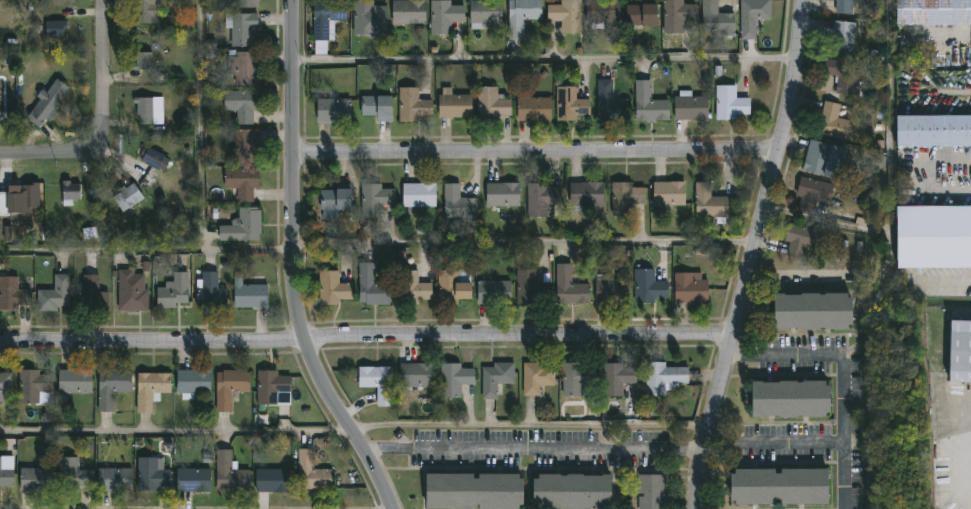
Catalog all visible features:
building: (245, 4)
building: (843, 6)
building: (144, 12)
building: (484, 12)
building: (602, 12)
building: (933, 12)
building: (407, 13)
building: (564, 13)
building: (641, 15)
building: (677, 15)
building: (520, 16)
building: (752, 16)
building: (443, 17)
building: (325, 18)
building: (369, 20)
building: (715, 20)
building: (54, 30)
building: (241, 31)
building: (841, 37)
road: (101, 55)
road: (544, 58)
building: (142, 62)
building: (243, 69)
building: (842, 75)
building: (0, 99)
building: (608, 103)
building: (647, 103)
building: (46, 104)
building: (491, 104)
building: (729, 104)
building: (570, 105)
building: (241, 106)
building: (412, 106)
building: (454, 106)
building: (376, 108)
building: (689, 108)
building: (533, 109)
building: (332, 111)
building: (143, 112)
building: (830, 122)
building: (933, 130)
building: (245, 146)
road: (66, 153)
road: (533, 154)
building: (815, 158)
building: (151, 160)
building: (240, 183)
building: (813, 191)
building: (69, 193)
building: (668, 194)
building: (501, 195)
building: (586, 195)
building: (417, 197)
building: (126, 198)
building: (625, 198)
building: (374, 199)
building: (541, 200)
building: (18, 202)
building: (332, 203)
building: (708, 203)
building: (457, 205)
road: (889, 207)
building: (241, 226)
building: (933, 237)
road: (524, 240)
building: (799, 241)
road: (147, 249)
road: (749, 254)
road: (296, 265)
building: (371, 287)
building: (452, 287)
building: (648, 287)
building: (568, 288)
building: (332, 289)
building: (413, 289)
building: (530, 289)
building: (688, 289)
building: (131, 290)
building: (209, 290)
building: (173, 291)
building: (611, 292)
building: (93, 293)
building: (249, 293)
building: (492, 293)
building: (12, 294)
building: (54, 295)
building: (812, 310)
road: (364, 342)
building: (960, 351)
building: (415, 376)
building: (495, 377)
building: (536, 377)
building: (576, 378)
building: (616, 378)
building: (661, 378)
building: (453, 379)
building: (74, 381)
building: (193, 381)
building: (377, 383)
building: (32, 384)
building: (269, 386)
building: (5, 387)
building: (111, 387)
building: (228, 387)
building: (149, 388)
building: (790, 398)
road: (843, 409)
road: (355, 430)
road: (561, 447)
road: (387, 448)
road: (960, 464)
building: (6, 472)
building: (310, 472)
building: (228, 473)
building: (73, 474)
building: (151, 474)
road: (844, 475)
building: (35, 479)
building: (113, 479)
building: (193, 479)
building: (272, 480)
building: (779, 486)
building: (473, 491)
building: (571, 491)
building: (650, 491)

